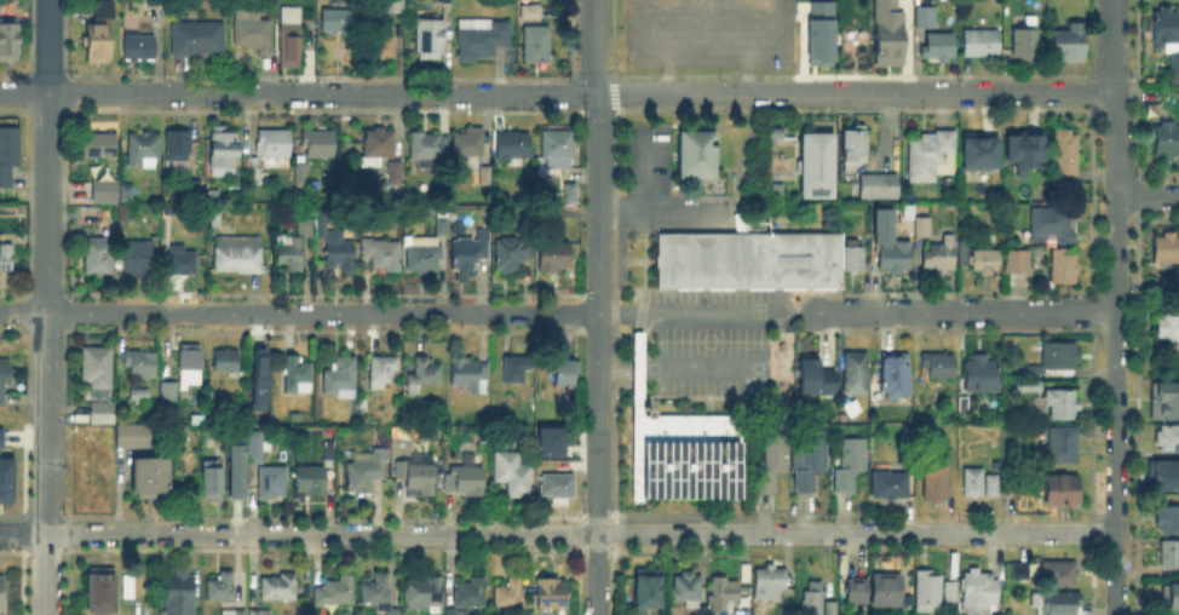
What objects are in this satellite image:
building: (445, 1)
building: (154, 4)
building: (395, 10)
building: (528, 10)
building: (533, 15)
building: (930, 21)
building: (339, 22)
building: (888, 31)
building: (255, 33)
building: (103, 35)
building: (294, 38)
building: (1167, 38)
building: (433, 39)
building: (199, 40)
building: (10, 41)
building: (483, 41)
building: (816, 42)
building: (1029, 42)
building: (539, 46)
road: (593, 46)
building: (984, 46)
building: (1072, 47)
building: (140, 50)
building: (384, 50)
building: (941, 50)
road: (706, 56)
road: (666, 79)
road: (746, 79)
road: (558, 92)
building: (557, 143)
building: (1164, 144)
building: (322, 148)
building: (1025, 148)
building: (380, 149)
building: (100, 150)
building: (145, 150)
building: (430, 150)
building: (516, 150)
building: (858, 150)
building: (980, 153)
building: (277, 154)
building: (179, 155)
building: (225, 155)
building: (476, 156)
building: (10, 157)
building: (934, 159)
building: (1069, 162)
building: (704, 168)
building: (821, 168)
building: (397, 177)
building: (304, 180)
building: (882, 186)
building: (201, 190)
building: (108, 194)
building: (128, 194)
road: (1148, 195)
road: (721, 206)
building: (107, 213)
building: (130, 213)
building: (217, 219)
building: (444, 222)
building: (303, 225)
building: (1056, 228)
building: (182, 229)
building: (925, 229)
building: (297, 249)
building: (338, 249)
building: (959, 252)
building: (472, 253)
building: (1166, 253)
building: (241, 255)
building: (514, 255)
building: (384, 257)
building: (424, 257)
building: (140, 258)
building: (897, 258)
building: (100, 259)
building: (557, 259)
building: (943, 259)
building: (6, 260)
building: (754, 261)
building: (982, 261)
building: (184, 263)
building: (1066, 270)
building: (1022, 271)
building: (1171, 283)
road: (46, 307)
road: (1116, 307)
road: (299, 311)
road: (692, 311)
road: (966, 311)
road: (801, 312)
building: (1168, 333)
road: (598, 352)
building: (1063, 362)
building: (229, 363)
building: (143, 364)
building: (941, 367)
building: (514, 370)
building: (384, 372)
building: (567, 372)
building: (97, 374)
building: (186, 375)
building: (298, 377)
building: (468, 377)
building: (858, 377)
building: (5, 378)
building: (255, 378)
building: (425, 378)
building: (816, 378)
building: (983, 378)
building: (899, 379)
building: (343, 380)
building: (1031, 389)
building: (142, 396)
building: (1166, 400)
building: (1065, 407)
building: (104, 415)
building: (297, 418)
building: (2, 436)
building: (409, 437)
building: (1169, 437)
building: (136, 439)
building: (548, 439)
building: (907, 439)
building: (1065, 443)
building: (252, 444)
building: (332, 452)
building: (679, 452)
building: (811, 458)
building: (776, 465)
building: (853, 469)
building: (234, 470)
building: (370, 471)
building: (419, 476)
building: (514, 476)
building: (1168, 476)
building: (208, 477)
building: (307, 477)
building: (7, 478)
building: (269, 479)
building: (941, 481)
building: (468, 482)
building: (989, 483)
building: (976, 485)
building: (995, 485)
building: (1008, 485)
building: (154, 487)
building: (557, 488)
building: (892, 489)
building: (1066, 495)
building: (1171, 522)
road: (990, 531)
road: (298, 533)
road: (651, 533)
road: (784, 533)
building: (1169, 559)
building: (1022, 573)
building: (1062, 576)
building: (772, 586)
building: (882, 587)
building: (853, 588)
building: (222, 590)
building: (280, 590)
building: (689, 591)
building: (2, 593)
building: (98, 593)
building: (337, 593)
building: (652, 593)
building: (932, 593)
building: (953, 593)
building: (982, 593)
building: (725, 594)
building: (182, 596)
building: (379, 596)
building: (424, 596)
building: (472, 596)
building: (512, 597)
building: (554, 597)
building: (904, 598)
building: (1171, 598)
building: (815, 600)
building: (1064, 605)
building: (832, 610)
building: (452, 611)
building: (234, 614)
building: (261, 614)

